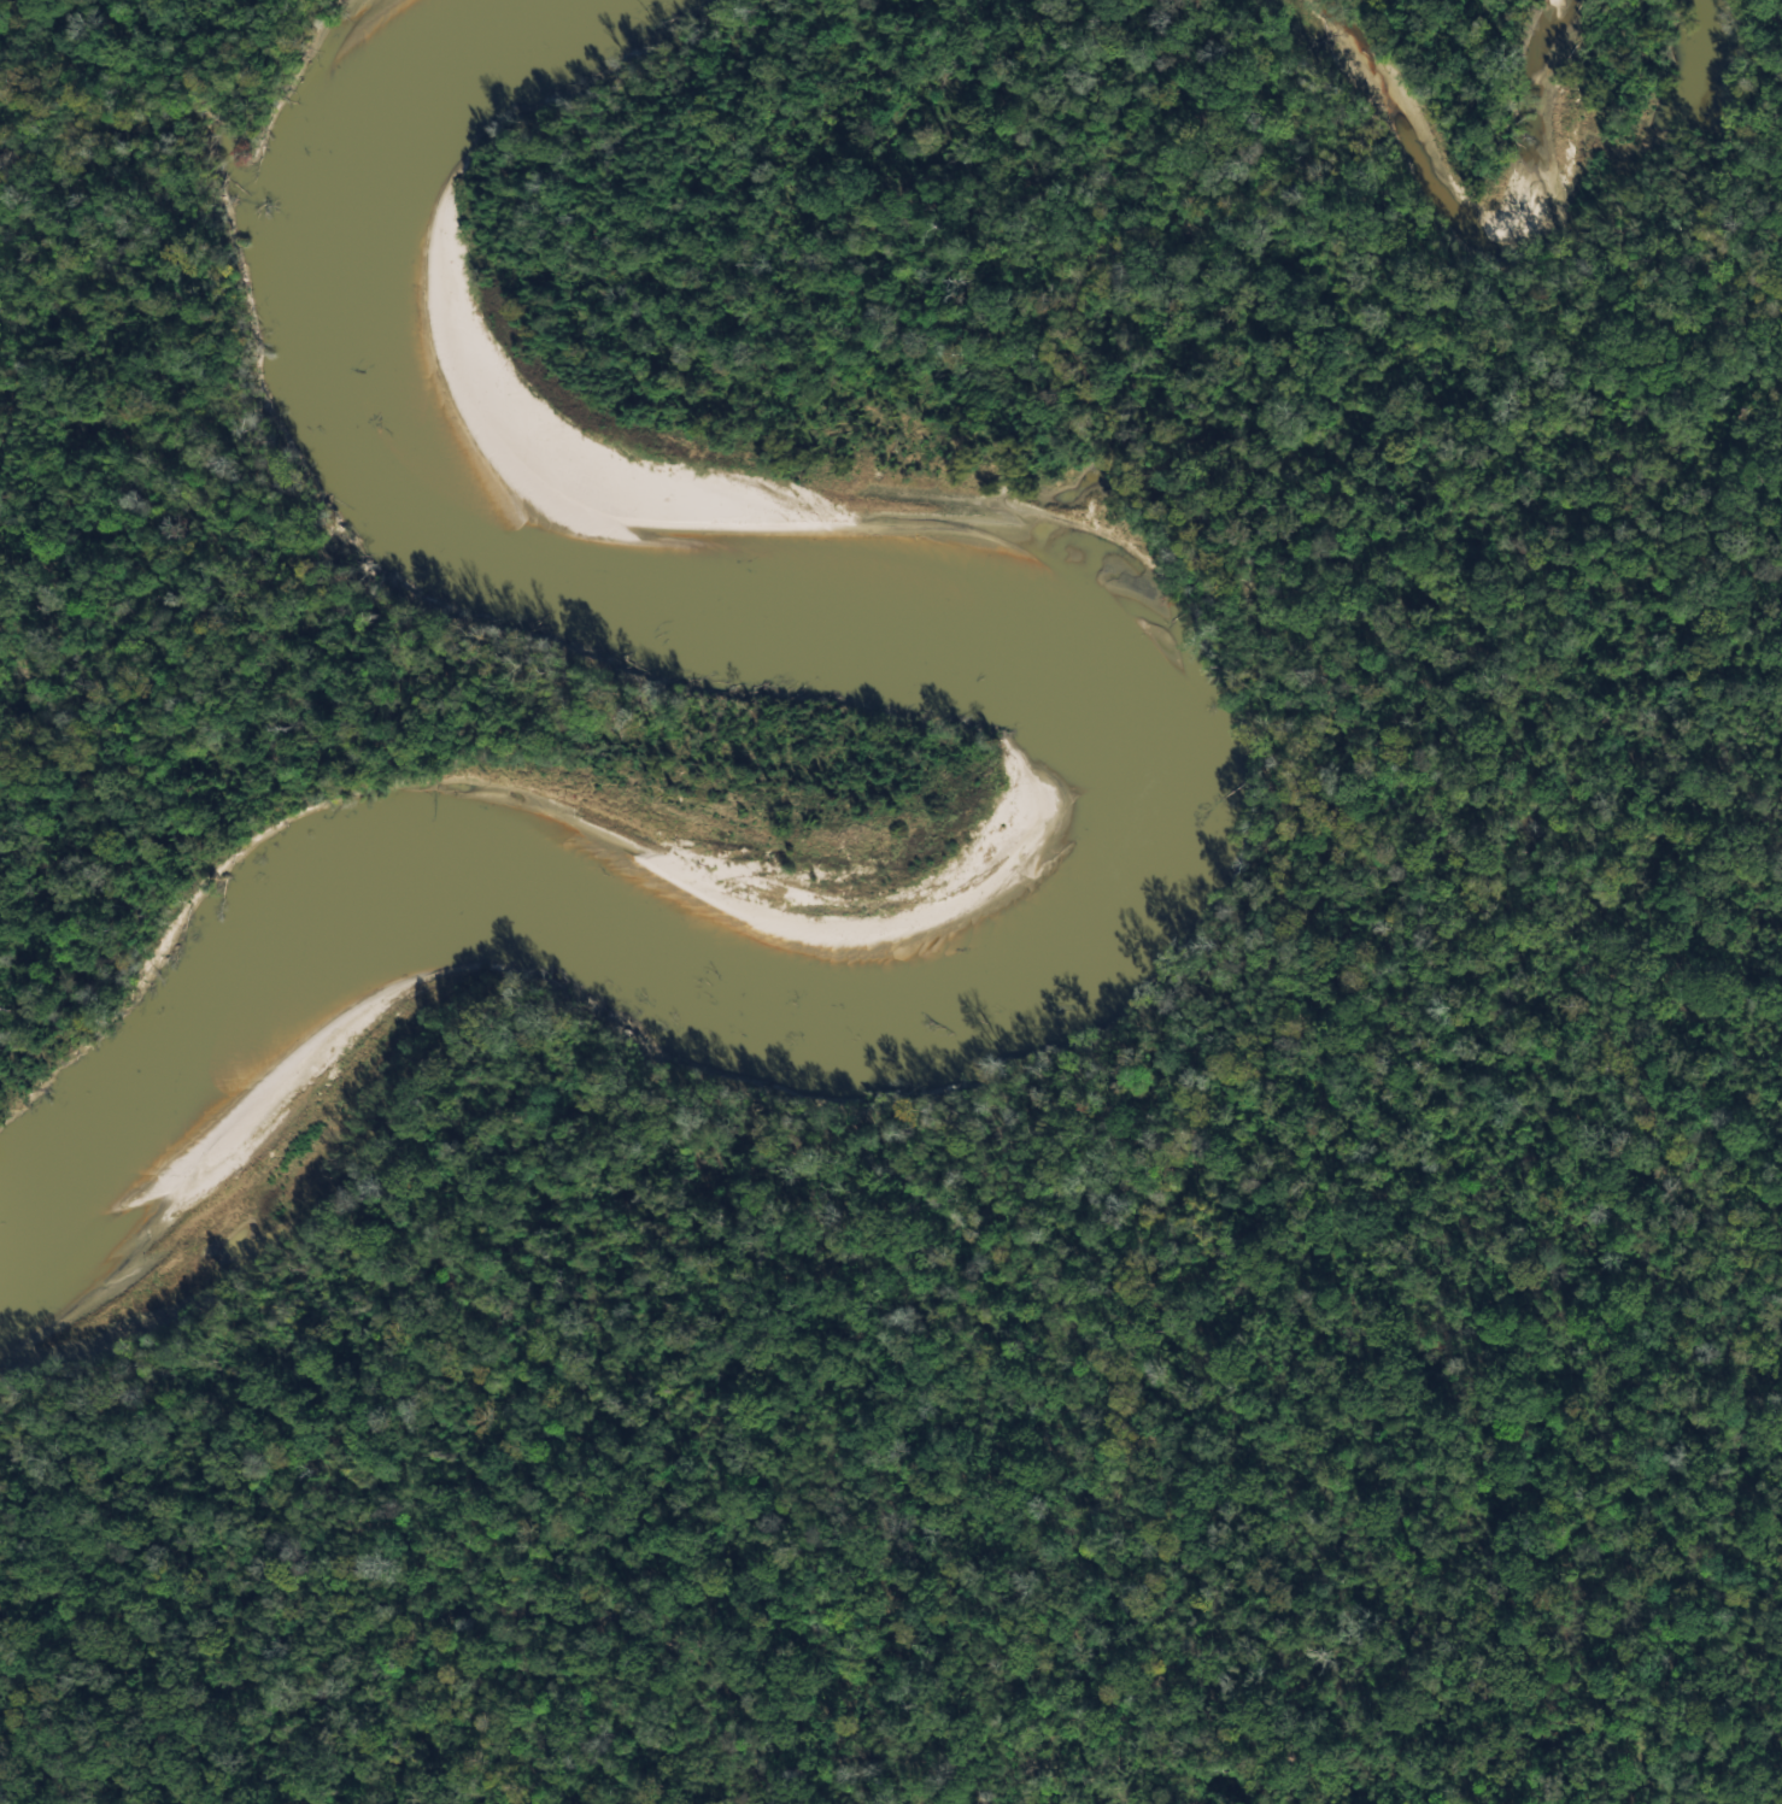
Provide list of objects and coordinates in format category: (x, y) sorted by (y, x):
road: (1770, 117)
river: (1156, 776)
road: (1428, 1024)

